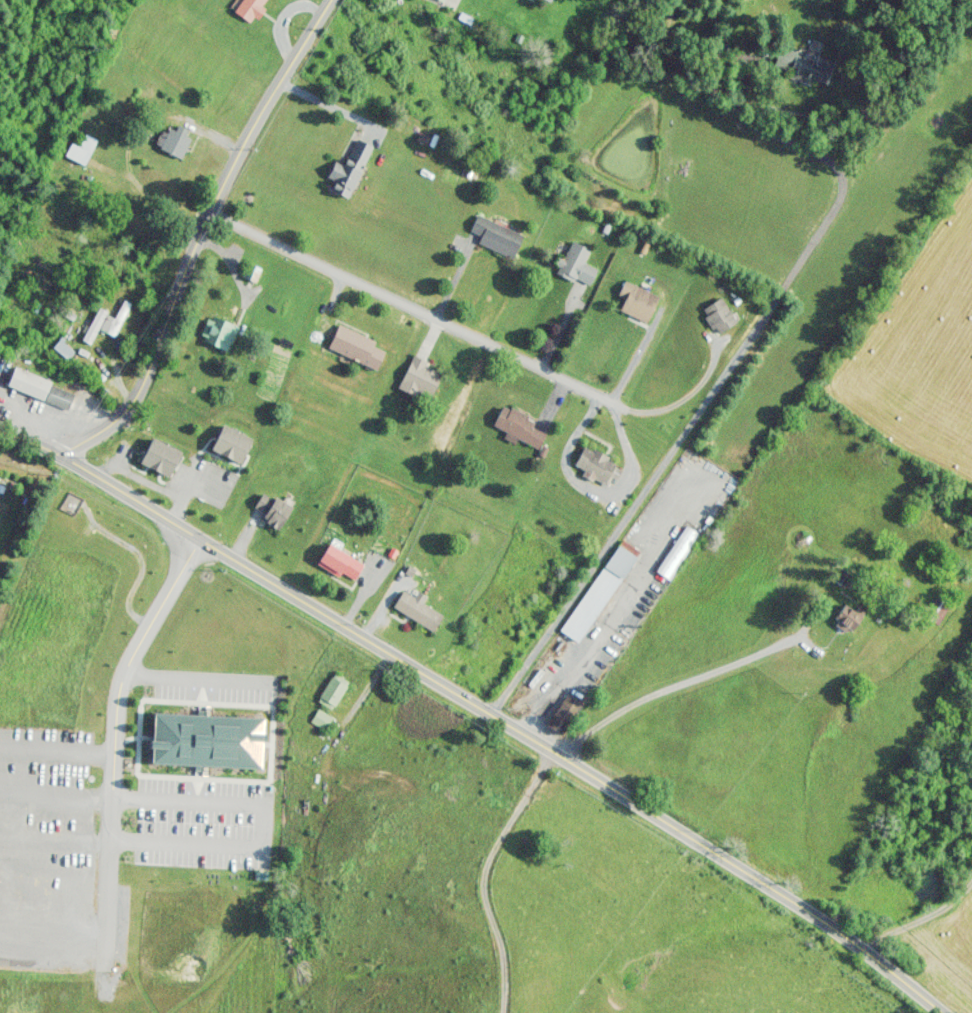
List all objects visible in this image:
building: (539, 0)
building: (450, 1)
building: (250, 8)
building: (794, 62)
road: (329, 106)
road: (127, 137)
building: (173, 142)
building: (80, 150)
building: (348, 170)
road: (195, 233)
building: (496, 236)
building: (576, 264)
building: (250, 272)
road: (454, 280)
building: (636, 301)
road: (330, 303)
building: (718, 316)
building: (114, 320)
road: (562, 326)
building: (217, 332)
road: (475, 339)
building: (355, 347)
road: (731, 363)
building: (419, 378)
building: (40, 389)
building: (518, 427)
road: (30, 438)
building: (597, 465)
road: (624, 481)
building: (276, 513)
building: (677, 553)
building: (339, 563)
building: (599, 591)
building: (938, 608)
building: (417, 610)
building: (849, 618)
building: (331, 692)
building: (561, 719)
building: (320, 720)
road: (509, 723)
building: (208, 744)
road: (388, 780)
road: (485, 872)
road: (920, 917)

